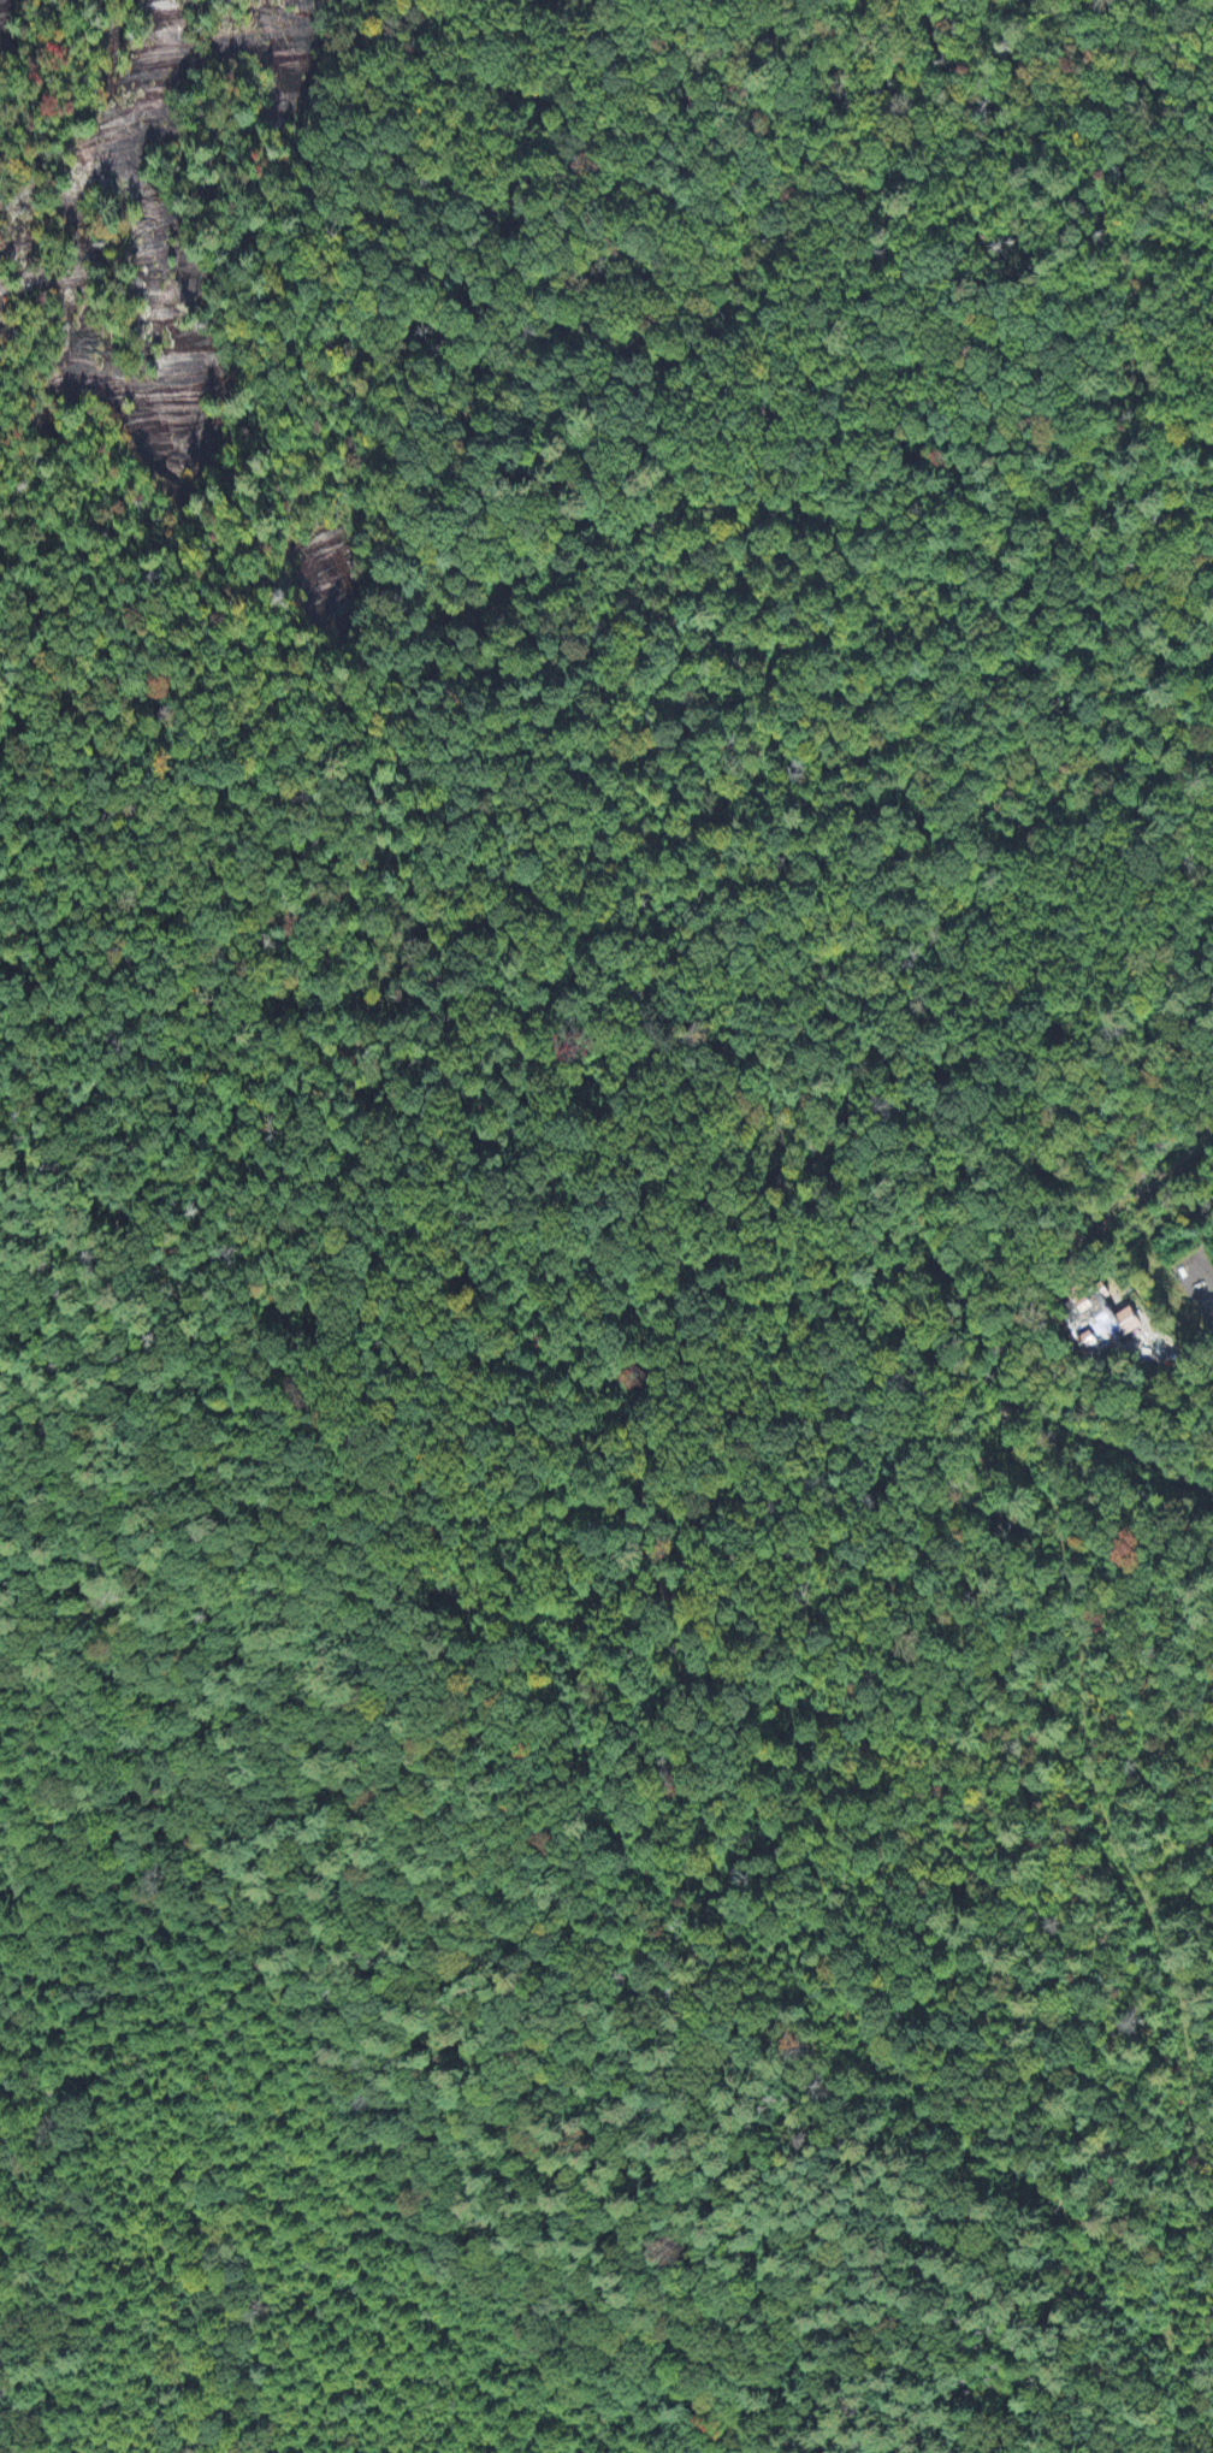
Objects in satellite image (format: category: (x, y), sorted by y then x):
park: (183, 466)
building: (1114, 1323)
road: (1177, 2207)

